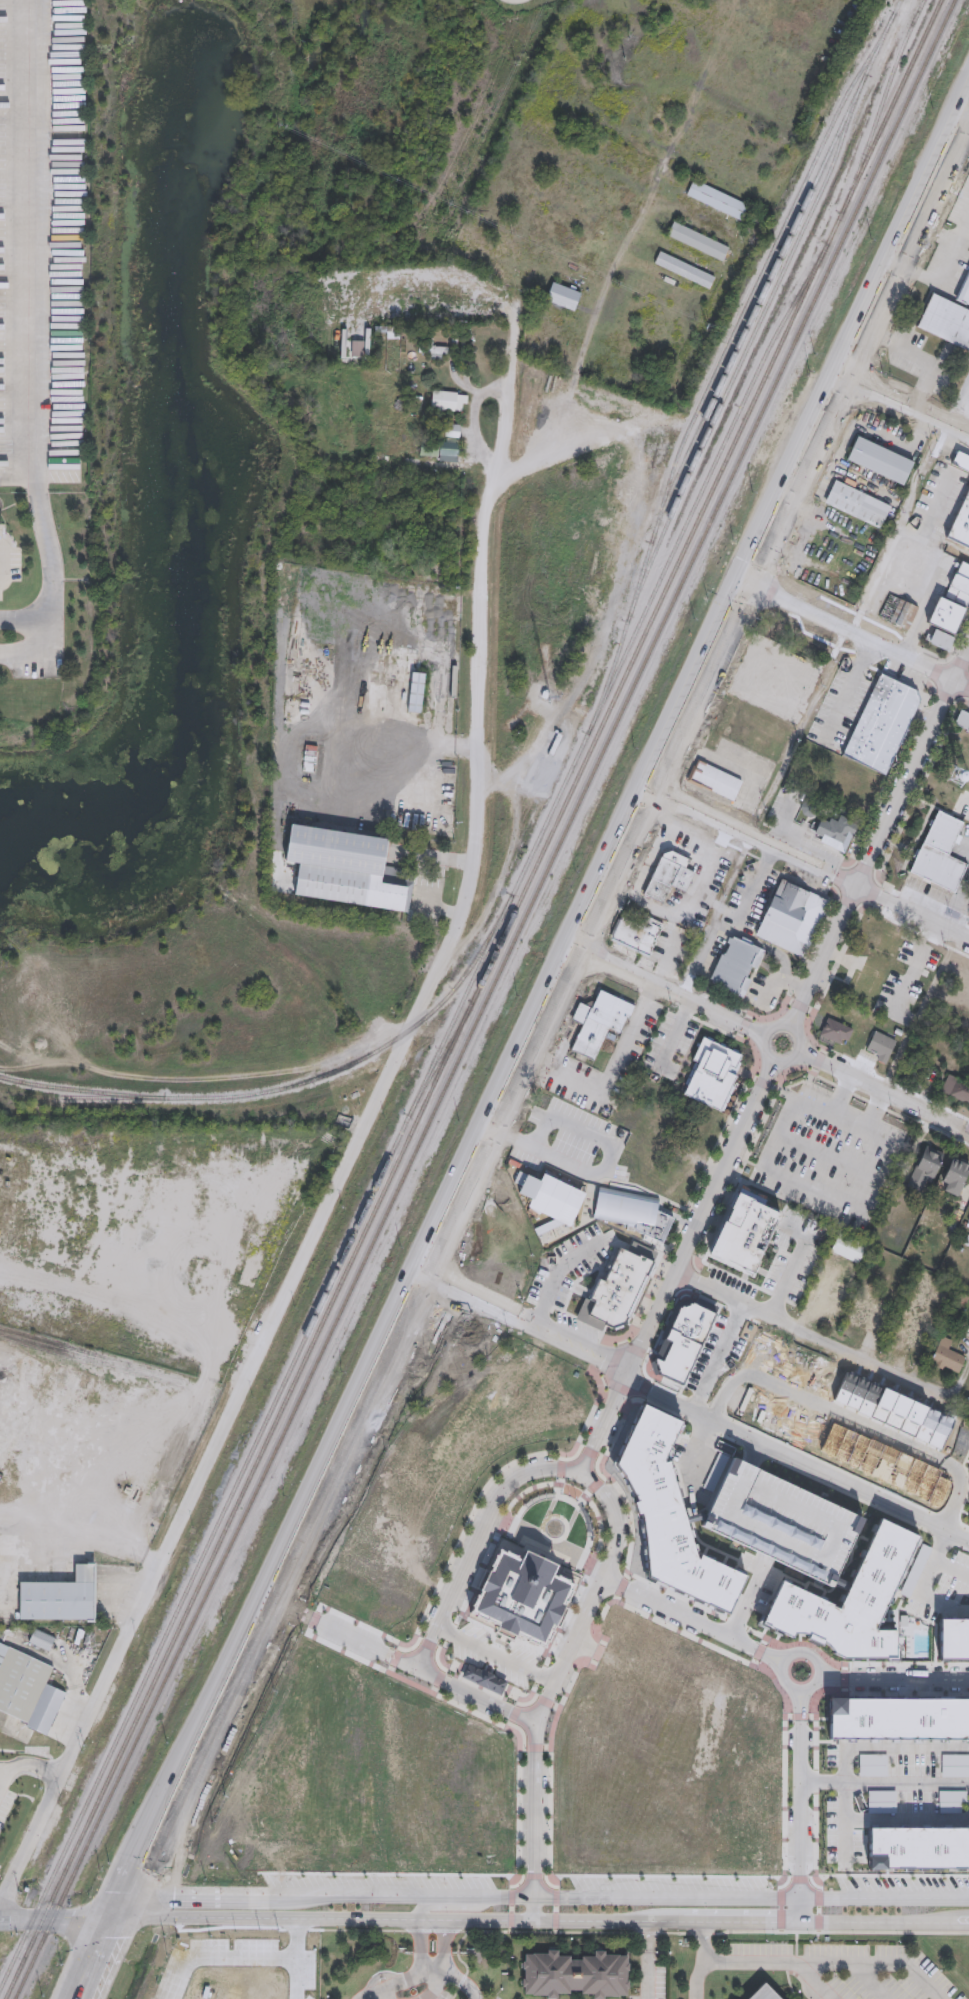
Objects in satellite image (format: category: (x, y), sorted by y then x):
road: (967, 110)
road: (967, 116)
road: (939, 169)
building: (717, 200)
road: (963, 230)
road: (935, 233)
building: (697, 241)
road: (904, 243)
building: (684, 271)
railway: (769, 277)
road: (936, 283)
building: (965, 292)
building: (562, 297)
building: (386, 312)
building: (946, 320)
road: (35, 330)
road: (589, 339)
railway: (745, 354)
road: (920, 357)
railway: (720, 359)
road: (508, 398)
building: (447, 402)
road: (958, 402)
road: (905, 403)
road: (820, 420)
building: (452, 432)
building: (449, 450)
building: (880, 461)
building: (961, 462)
building: (857, 504)
building: (961, 526)
road: (3, 564)
road: (932, 581)
building: (960, 585)
building: (946, 619)
road: (26, 621)
road: (855, 631)
road: (958, 638)
building: (940, 640)
building: (755, 656)
road: (26, 658)
road: (960, 664)
road: (827, 672)
road: (931, 684)
road: (848, 690)
road: (925, 692)
building: (414, 696)
building: (431, 699)
road: (965, 704)
parking lot: (841, 705)
building: (786, 712)
building: (962, 719)
building: (880, 723)
road: (411, 745)
road: (898, 761)
water tower: (955, 779)
building: (714, 780)
road: (915, 790)
road: (964, 800)
road: (942, 812)
building: (799, 830)
building: (838, 833)
road: (918, 838)
road: (966, 844)
road: (871, 852)
building: (939, 855)
road: (441, 858)
road: (807, 862)
road: (864, 868)
building: (341, 869)
building: (669, 875)
parking lot: (804, 877)
road: (837, 877)
parking lot: (709, 879)
road: (789, 880)
road: (753, 887)
road: (872, 894)
parking lot: (749, 898)
road: (846, 903)
road: (443, 911)
road: (690, 918)
building: (792, 918)
road: (961, 919)
road: (583, 927)
building: (638, 935)
building: (881, 943)
road: (759, 944)
road: (813, 946)
road: (838, 958)
road: (698, 961)
building: (737, 967)
road: (779, 980)
building: (864, 983)
road: (669, 992)
parking lot: (763, 993)
railway: (474, 999)
railway: (487, 1000)
road: (800, 1006)
road: (771, 1016)
parking lot: (563, 1023)
building: (600, 1023)
road: (743, 1025)
building: (834, 1031)
road: (807, 1034)
road: (672, 1036)
road: (736, 1037)
road: (763, 1041)
parking lot: (669, 1045)
building: (879, 1049)
road: (621, 1056)
road: (818, 1061)
building: (712, 1073)
road: (743, 1074)
parking lot: (595, 1075)
road: (763, 1083)
road: (807, 1088)
building: (956, 1088)
railway: (289, 1089)
road: (846, 1089)
road: (846, 1090)
road: (884, 1093)
road: (785, 1095)
railway: (109, 1101)
road: (878, 1104)
road: (837, 1110)
building: (662, 1123)
road: (870, 1124)
road: (368, 1125)
railway: (405, 1125)
parking lot: (571, 1143)
parking lot: (829, 1156)
road: (829, 1157)
road: (754, 1165)
road: (604, 1167)
building: (925, 1169)
road: (738, 1175)
building: (954, 1176)
road: (641, 1187)
road: (762, 1189)
building: (530, 1192)
road: (826, 1194)
road: (686, 1209)
building: (633, 1212)
road: (700, 1218)
building: (745, 1240)
road: (635, 1241)
building: (848, 1250)
parking lot: (793, 1259)
parking lot: (567, 1266)
road: (770, 1268)
road: (763, 1273)
road: (553, 1276)
road: (744, 1279)
road: (787, 1279)
road: (689, 1281)
road: (743, 1281)
building: (784, 1284)
parking lot: (729, 1290)
building: (619, 1291)
building: (862, 1315)
road: (577, 1318)
road: (665, 1323)
building: (968, 1324)
road: (523, 1325)
parking lot: (575, 1325)
road: (810, 1334)
building: (903, 1340)
building: (692, 1346)
road: (720, 1356)
building: (947, 1356)
road: (644, 1363)
road: (602, 1383)
building: (900, 1411)
road: (591, 1415)
road: (604, 1422)
road: (855, 1422)
road: (613, 1435)
road: (755, 1452)
road: (693, 1458)
road: (796, 1460)
parking lot: (701, 1469)
road: (572, 1489)
road: (529, 1503)
road: (554, 1504)
building: (665, 1509)
road: (575, 1514)
building: (784, 1522)
parking garage: (784, 1522)
road: (85, 1523)
road: (607, 1526)
road: (542, 1528)
road: (477, 1538)
road: (939, 1543)
building: (536, 1552)
road: (281, 1557)
road: (951, 1565)
road: (597, 1578)
parking lot: (759, 1585)
parking lot: (937, 1585)
building: (520, 1590)
road: (598, 1594)
road: (922, 1598)
road: (747, 1599)
building: (58, 1600)
building: (850, 1605)
road: (694, 1623)
building: (954, 1639)
building: (40, 1642)
road: (495, 1655)
road: (399, 1660)
building: (483, 1678)
road: (819, 1678)
road: (894, 1679)
building: (27, 1692)
building: (899, 1717)
road: (850, 1754)
road: (4, 1770)
road: (37, 1771)
road: (4, 1780)
road: (884, 1783)
parking lot: (893, 1789)
road: (799, 1806)
road: (907, 1819)
road: (535, 1822)
building: (918, 1849)
road: (130, 1877)
traffic signals: (124, 1893)
road: (539, 1893)
traffic signals: (174, 1894)
road: (780, 1910)
road: (818, 1910)
road: (56, 1917)
traffic signals: (10, 1918)
road: (541, 1922)
road: (841, 1932)
traffic signals: (105, 1938)
road: (796, 1944)
road: (419, 1947)
road: (447, 1948)
road: (457, 1955)
road: (96, 1957)
road: (228, 1957)
road: (308, 1959)
road: (648, 1960)
road: (811, 1967)
park: (813, 1967)
parking lot: (851, 1969)
road: (420, 1973)
building: (575, 1974)
road: (698, 1977)
road: (379, 1978)
road: (461, 1983)
road: (869, 1983)
road: (811, 1985)
road: (435, 1986)
building: (761, 1993)
road: (455, 1994)
road: (382, 1996)

